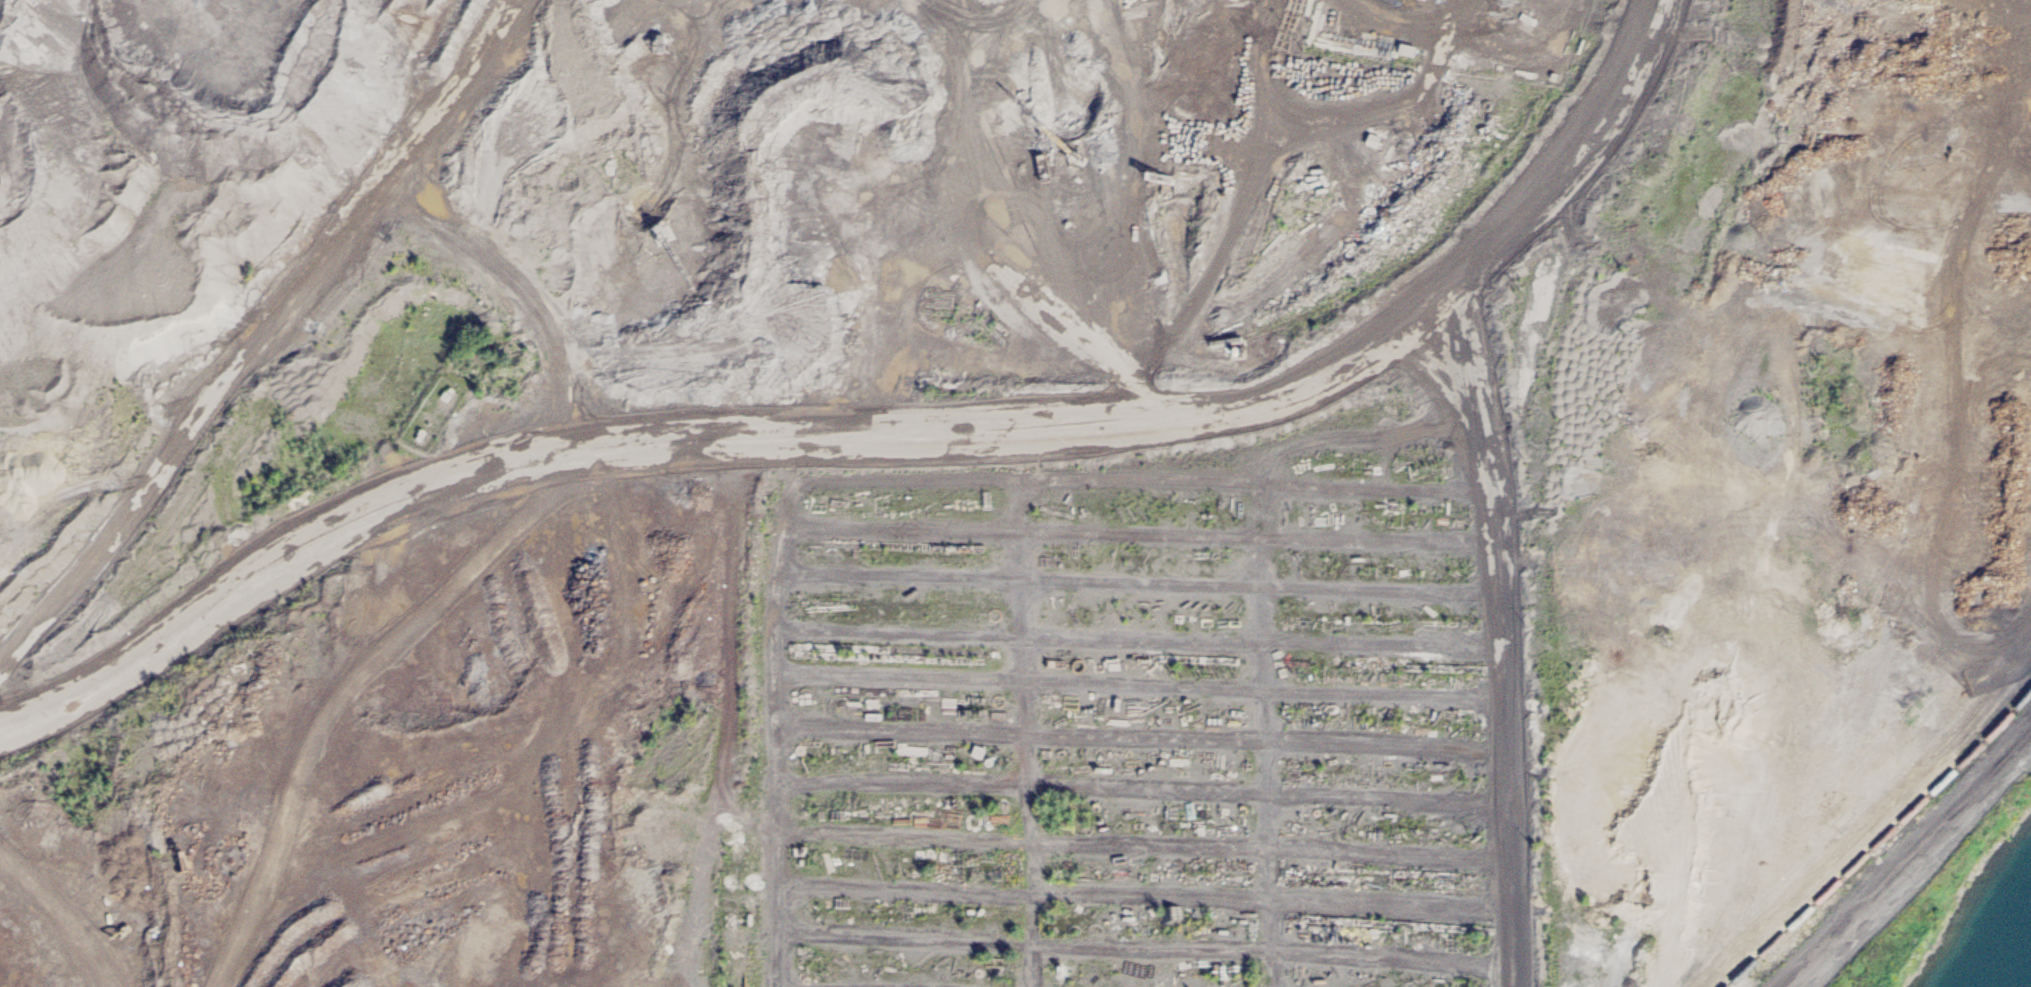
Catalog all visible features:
railway: (1883, 842)

